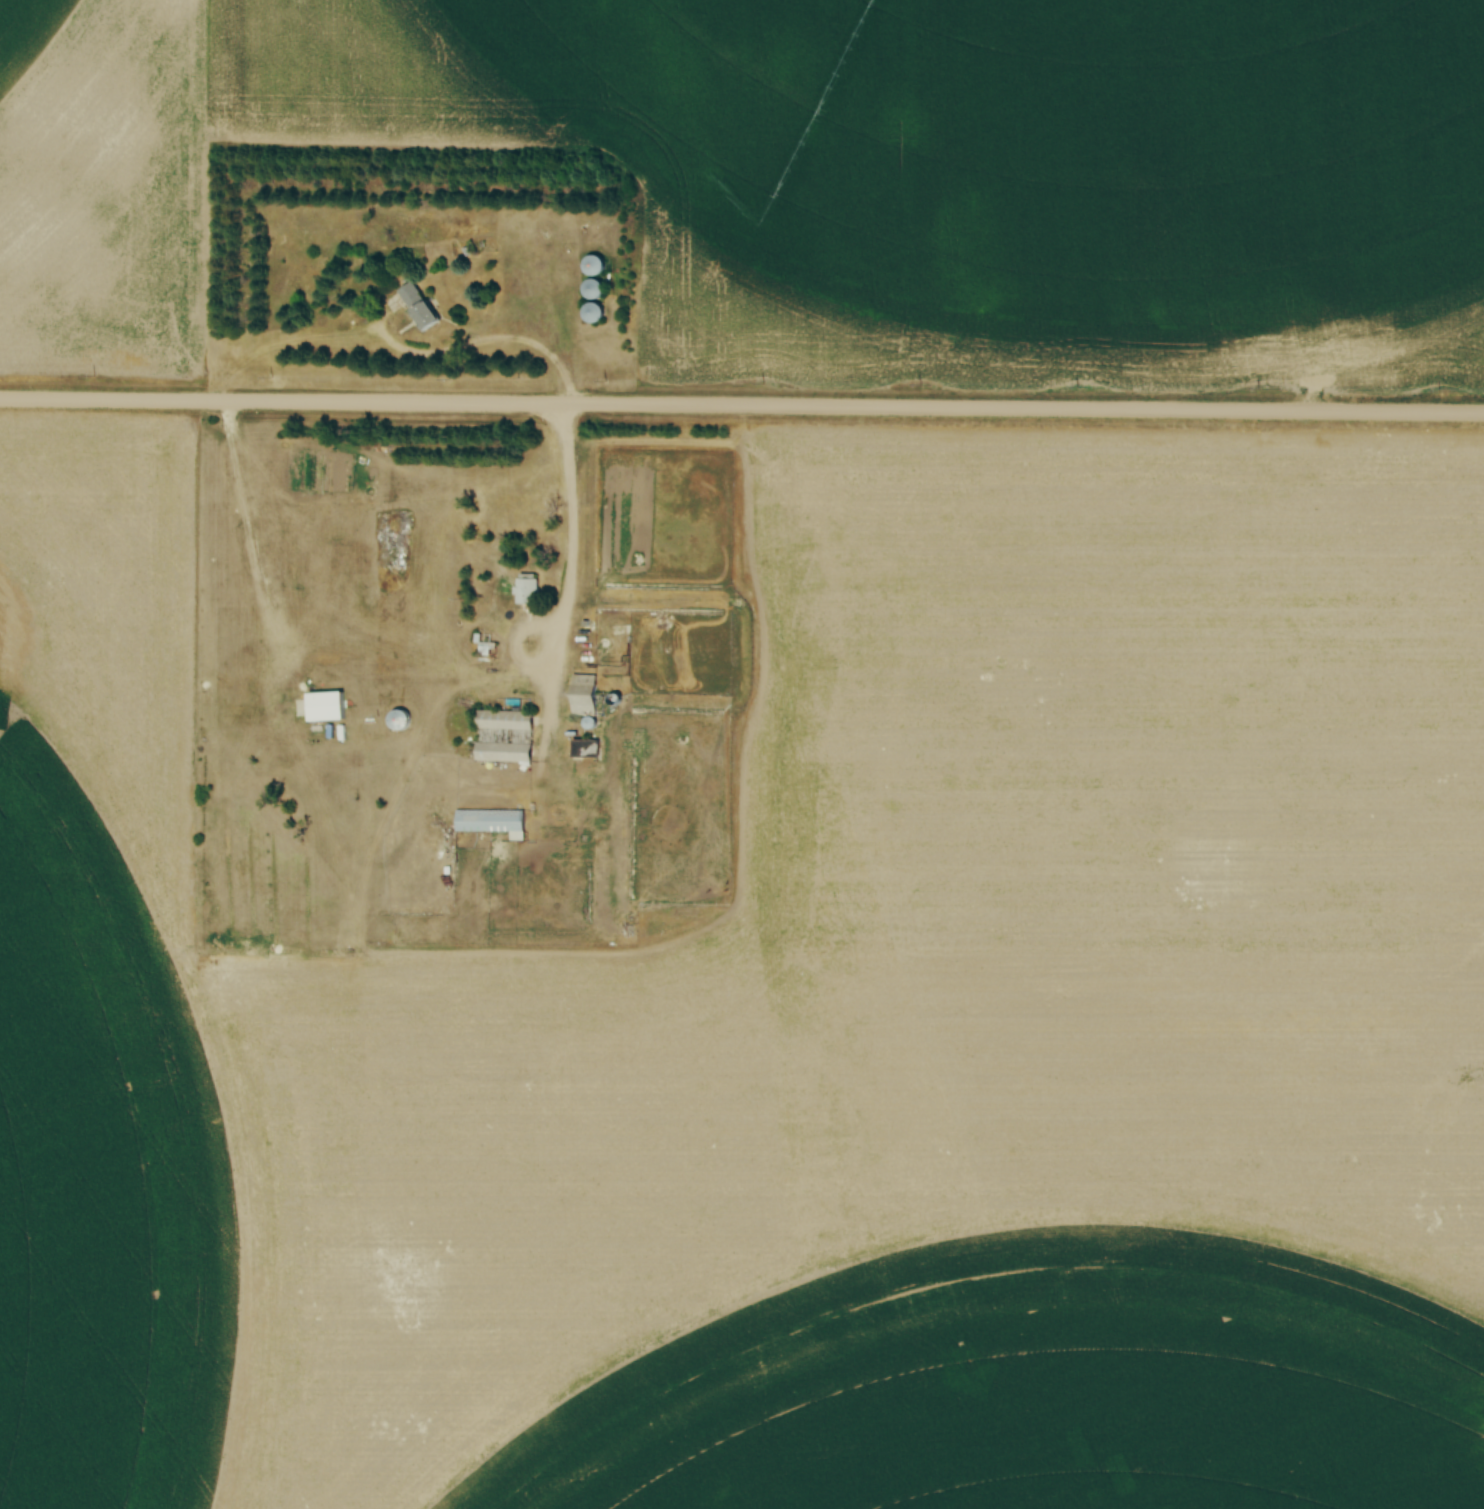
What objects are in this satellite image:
building: (599, 266)
silo: (599, 266)
building: (599, 290)
silo: (599, 290)
building: (413, 307)
building: (598, 314)
silo: (598, 314)
road: (568, 405)
road: (741, 406)
building: (526, 590)
building: (583, 697)
building: (324, 707)
building: (398, 722)
building: (503, 738)
building: (584, 750)
building: (489, 822)

